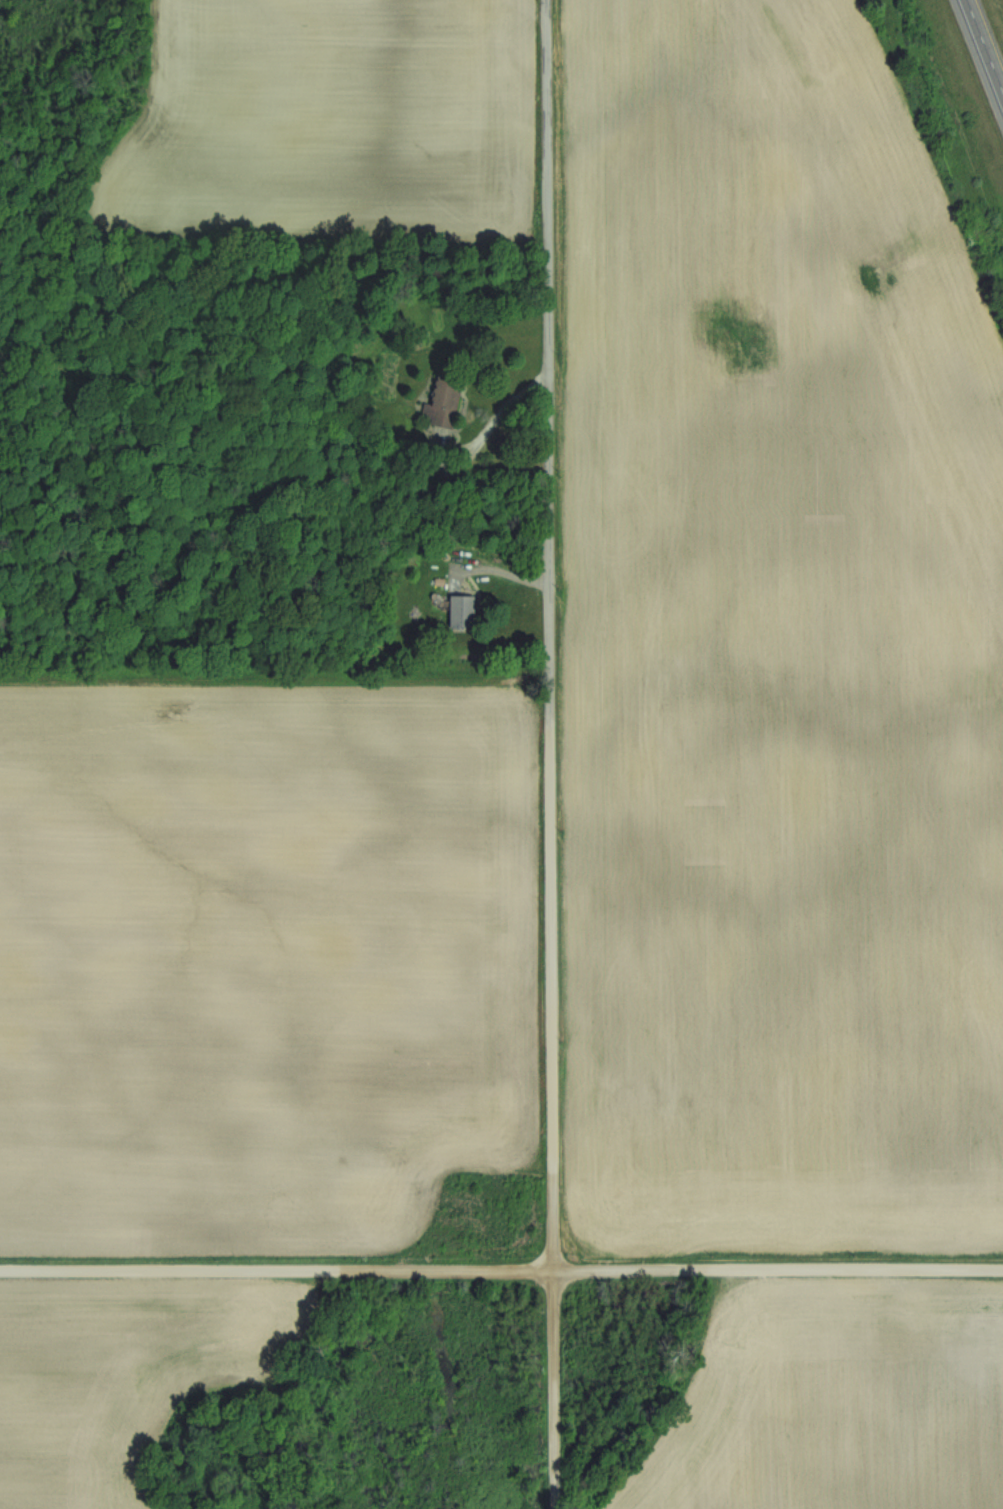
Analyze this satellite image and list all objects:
road: (985, 45)
building: (440, 405)
road: (504, 411)
road: (503, 567)
building: (460, 612)
road: (553, 754)
road: (501, 1271)

